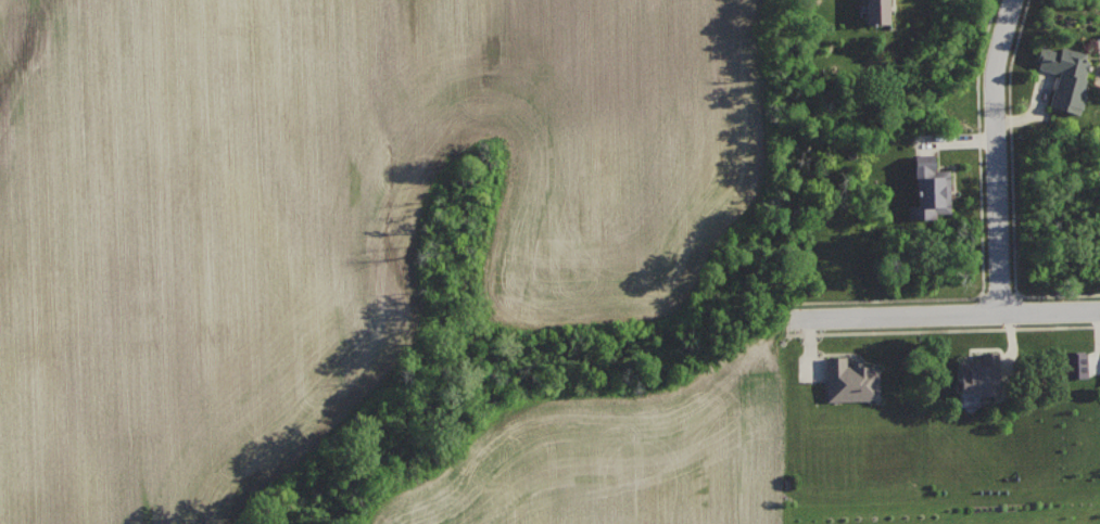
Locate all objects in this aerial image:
building: (876, 11)
building: (1065, 75)
road: (996, 153)
building: (930, 188)
road: (946, 311)
building: (1076, 362)
building: (982, 374)
building: (851, 379)

